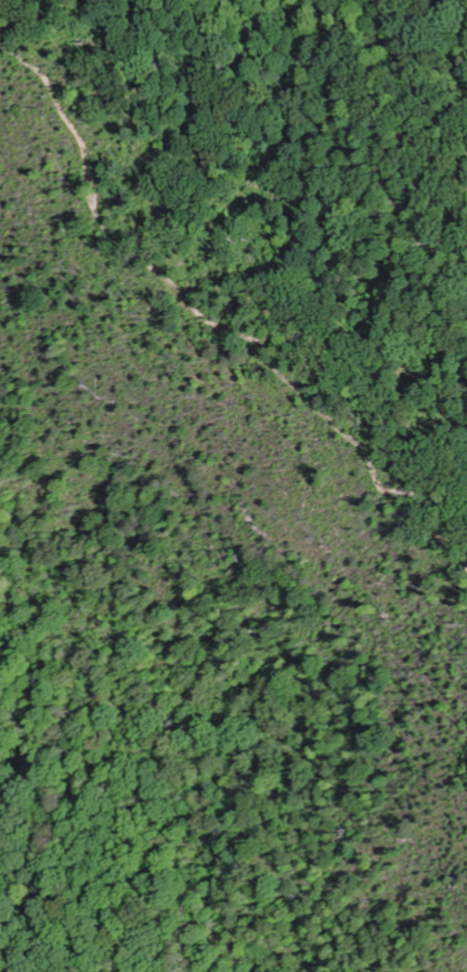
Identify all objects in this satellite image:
road: (245, 382)

